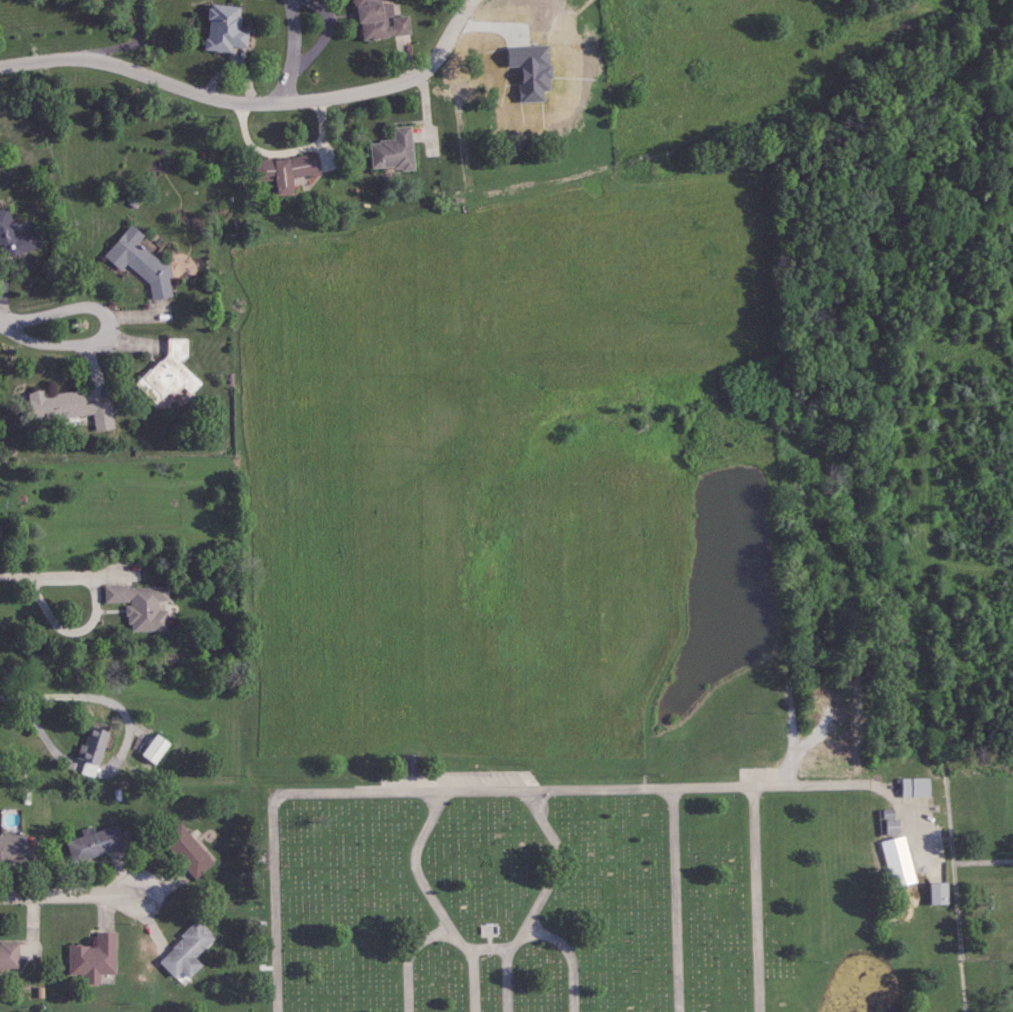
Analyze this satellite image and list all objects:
building: (379, 20)
building: (224, 28)
road: (130, 44)
road: (294, 52)
building: (531, 70)
road: (256, 104)
building: (393, 150)
road: (288, 155)
building: (285, 171)
building: (16, 236)
building: (140, 262)
road: (1, 325)
road: (100, 344)
building: (168, 375)
building: (69, 407)
road: (66, 576)
building: (141, 605)
park: (543, 623)
road: (89, 701)
road: (795, 725)
building: (155, 748)
building: (92, 750)
building: (408, 764)
building: (916, 786)
road: (509, 791)
road: (275, 817)
road: (952, 823)
building: (95, 843)
building: (13, 846)
building: (187, 850)
road: (984, 864)
building: (939, 893)
road: (69, 895)
road: (757, 899)
road: (677, 900)
road: (961, 938)
building: (186, 951)
building: (9, 955)
road: (571, 956)
building: (93, 957)
road: (409, 958)
road: (508, 980)
road: (474, 981)

